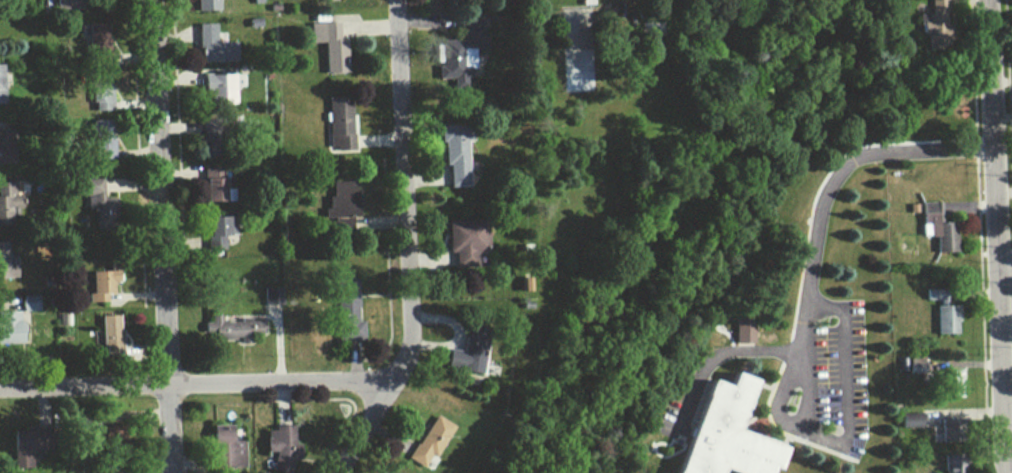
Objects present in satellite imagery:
building: (64, 4)
building: (202, 5)
building: (934, 23)
building: (653, 29)
building: (96, 43)
building: (210, 46)
building: (326, 46)
building: (526, 49)
building: (450, 61)
building: (98, 86)
building: (2, 87)
building: (215, 89)
building: (336, 122)
building: (99, 139)
building: (3, 146)
building: (452, 153)
road: (828, 180)
building: (211, 186)
building: (339, 201)
building: (7, 203)
building: (101, 210)
building: (935, 228)
building: (214, 231)
road: (164, 236)
road: (997, 236)
building: (462, 238)
road: (409, 245)
building: (4, 265)
road: (1005, 269)
building: (99, 284)
building: (521, 284)
building: (933, 295)
building: (269, 296)
building: (24, 303)
building: (343, 310)
building: (945, 319)
building: (8, 328)
building: (228, 329)
building: (740, 330)
building: (106, 335)
building: (464, 354)
road: (195, 384)
building: (952, 384)
road: (810, 389)
road: (852, 412)
building: (908, 420)
building: (942, 430)
building: (723, 434)
building: (426, 441)
building: (24, 447)
building: (277, 447)
building: (222, 449)
building: (949, 463)
building: (112, 471)

